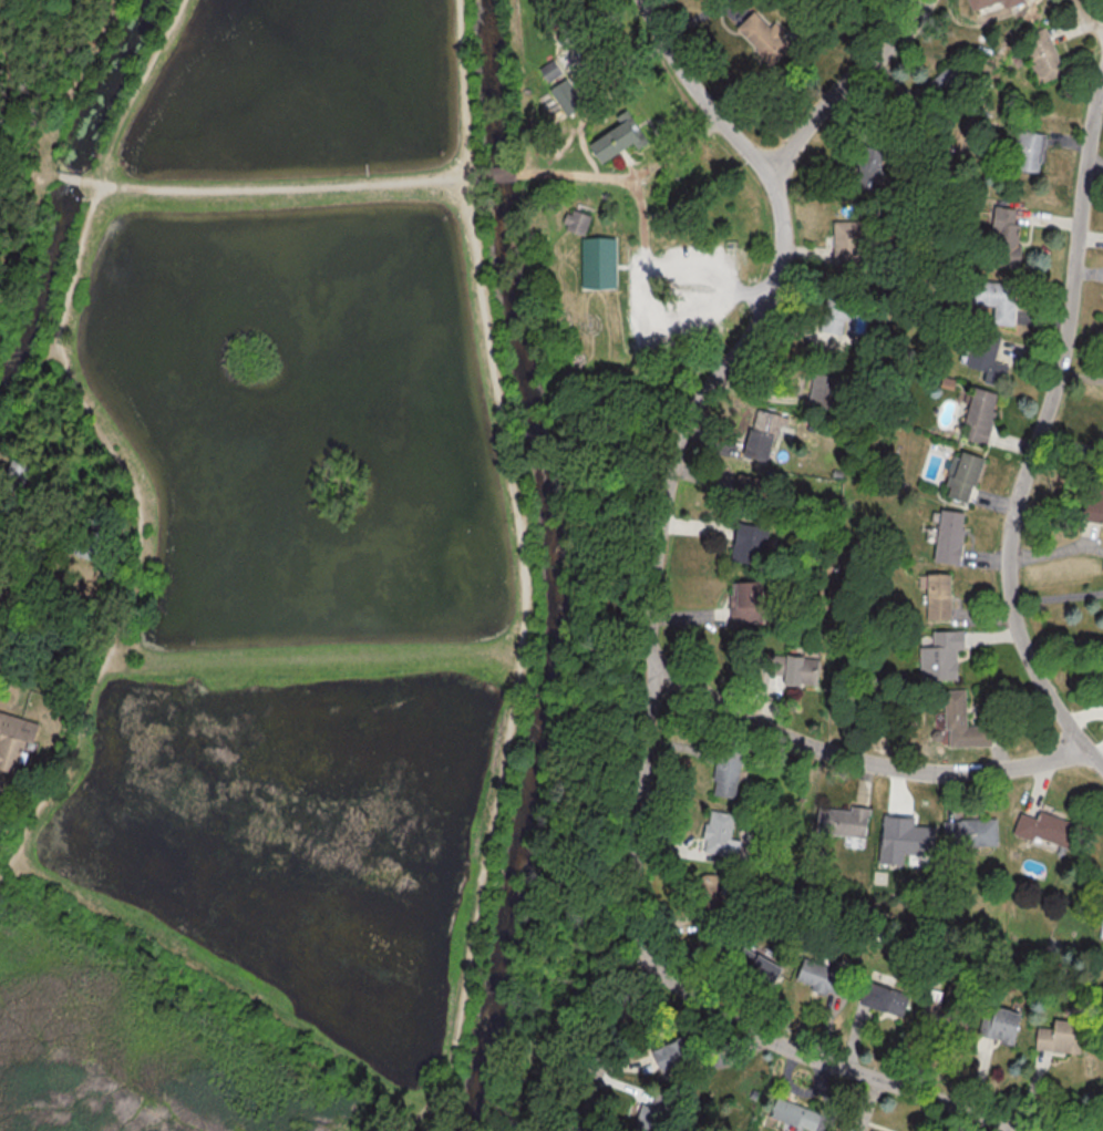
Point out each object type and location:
building: (988, 4)
road: (1087, 16)
building: (571, 31)
building: (761, 37)
building: (1040, 55)
road: (86, 62)
road: (614, 64)
building: (551, 72)
building: (950, 85)
road: (844, 89)
road: (4, 90)
building: (567, 99)
building: (619, 140)
road: (44, 151)
building: (1029, 152)
building: (867, 167)
road: (632, 172)
road: (497, 174)
building: (499, 174)
road: (647, 174)
road: (68, 176)
road: (629, 179)
road: (280, 189)
building: (578, 220)
building: (540, 233)
building: (1001, 237)
building: (846, 243)
building: (599, 261)
road: (642, 274)
parking lot: (680, 294)
building: (994, 300)
building: (836, 307)
building: (985, 357)
building: (823, 392)
building: (979, 415)
road: (1039, 439)
building: (757, 445)
road: (107, 446)
building: (1101, 453)
building: (13, 476)
building: (962, 477)
building: (746, 485)
building: (1092, 506)
building: (948, 537)
road: (660, 538)
building: (90, 539)
building: (749, 544)
park: (331, 545)
road: (525, 574)
road: (1058, 596)
building: (937, 597)
building: (744, 603)
road: (1063, 637)
building: (939, 655)
road: (316, 661)
building: (786, 669)
road: (580, 697)
building: (960, 723)
building: (12, 740)
road: (858, 760)
building: (724, 773)
building: (839, 822)
building: (1047, 831)
building: (717, 833)
building: (969, 833)
building: (1102, 935)
building: (757, 966)
building: (821, 975)
road: (235, 987)
building: (882, 997)
building: (945, 1014)
building: (999, 1024)
building: (1059, 1036)
building: (668, 1053)
road: (818, 1060)
building: (652, 1113)
building: (793, 1114)
road: (458, 1127)
road: (1102, 1130)

